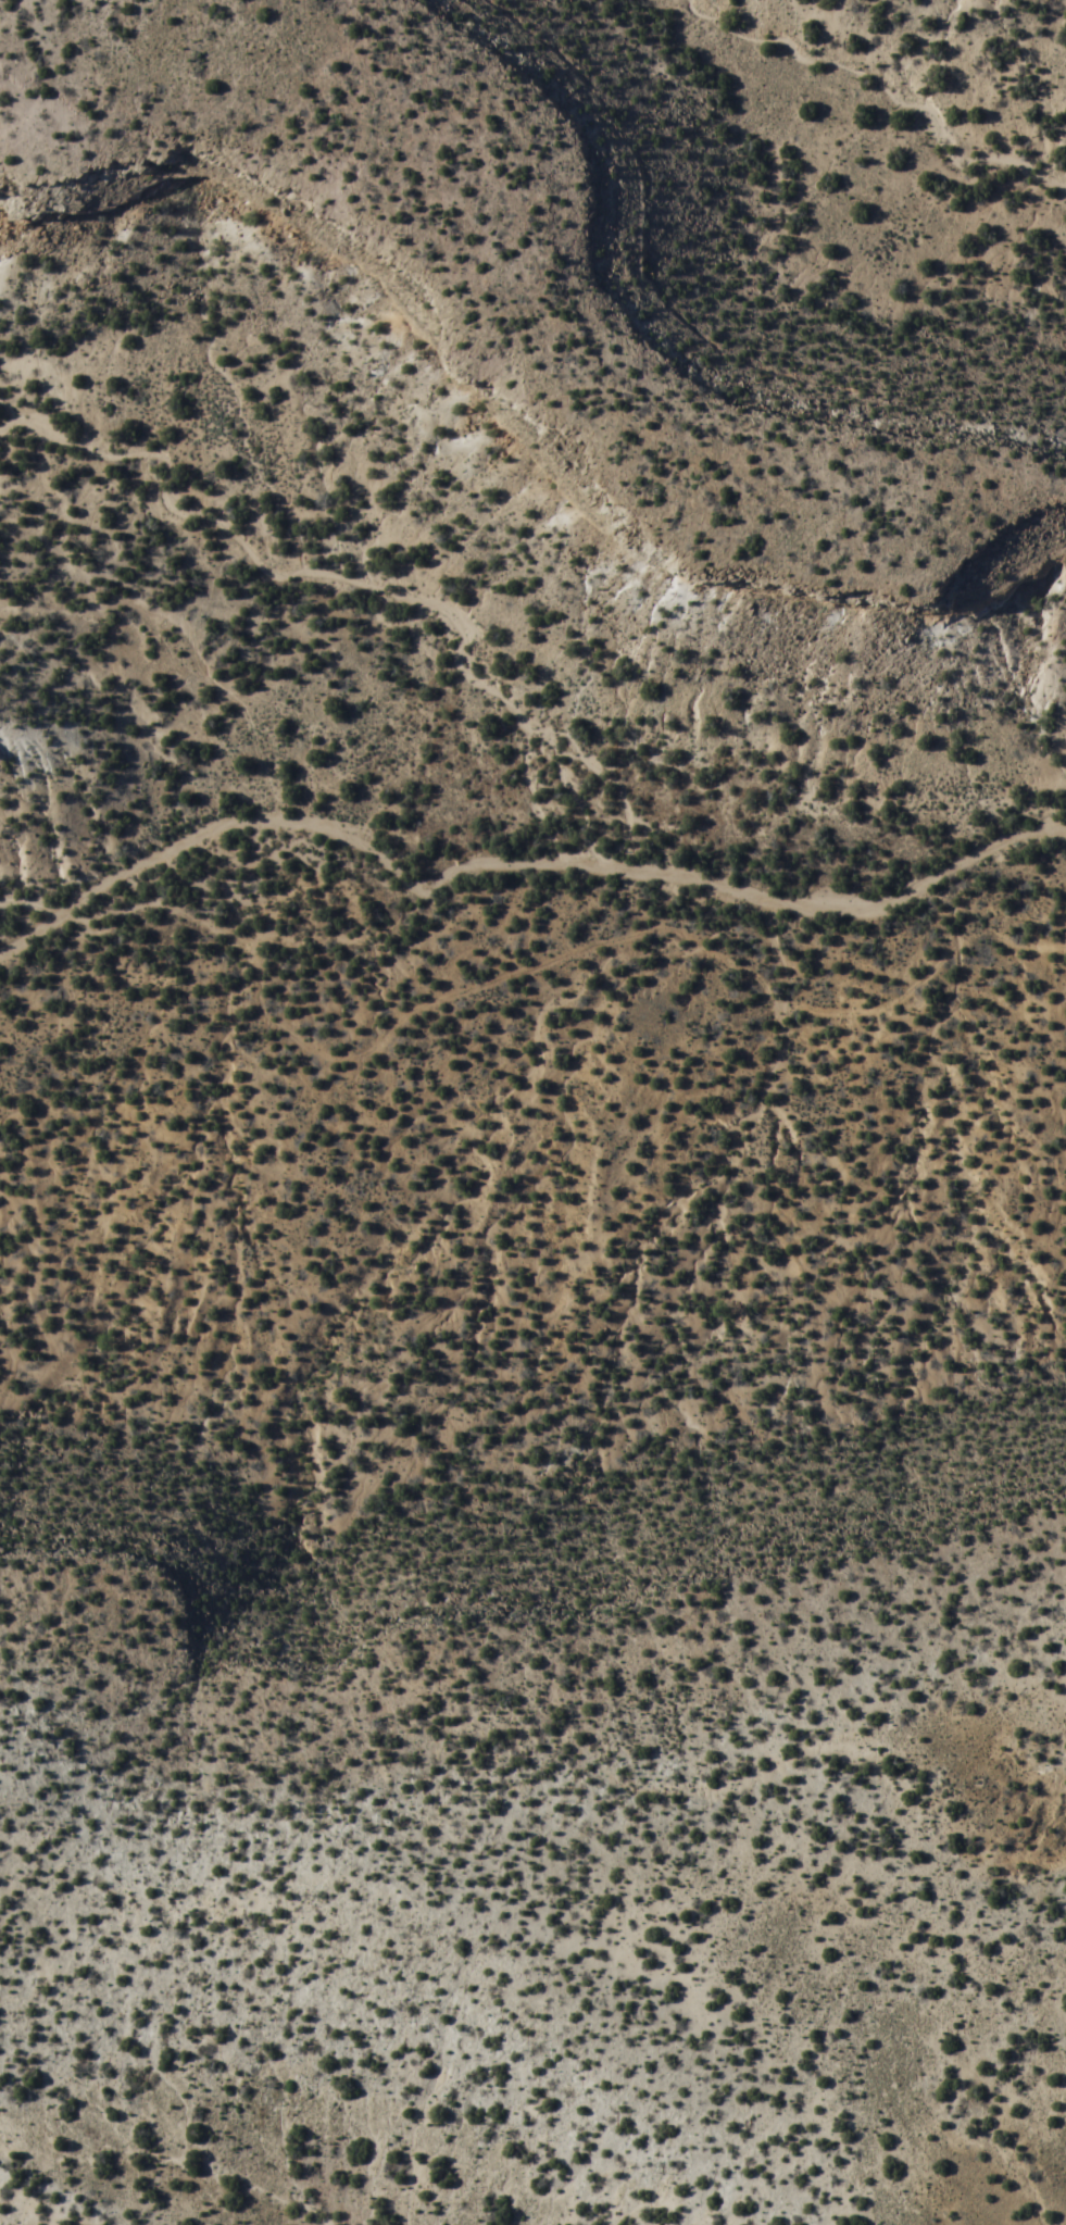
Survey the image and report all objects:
road: (236, 696)

